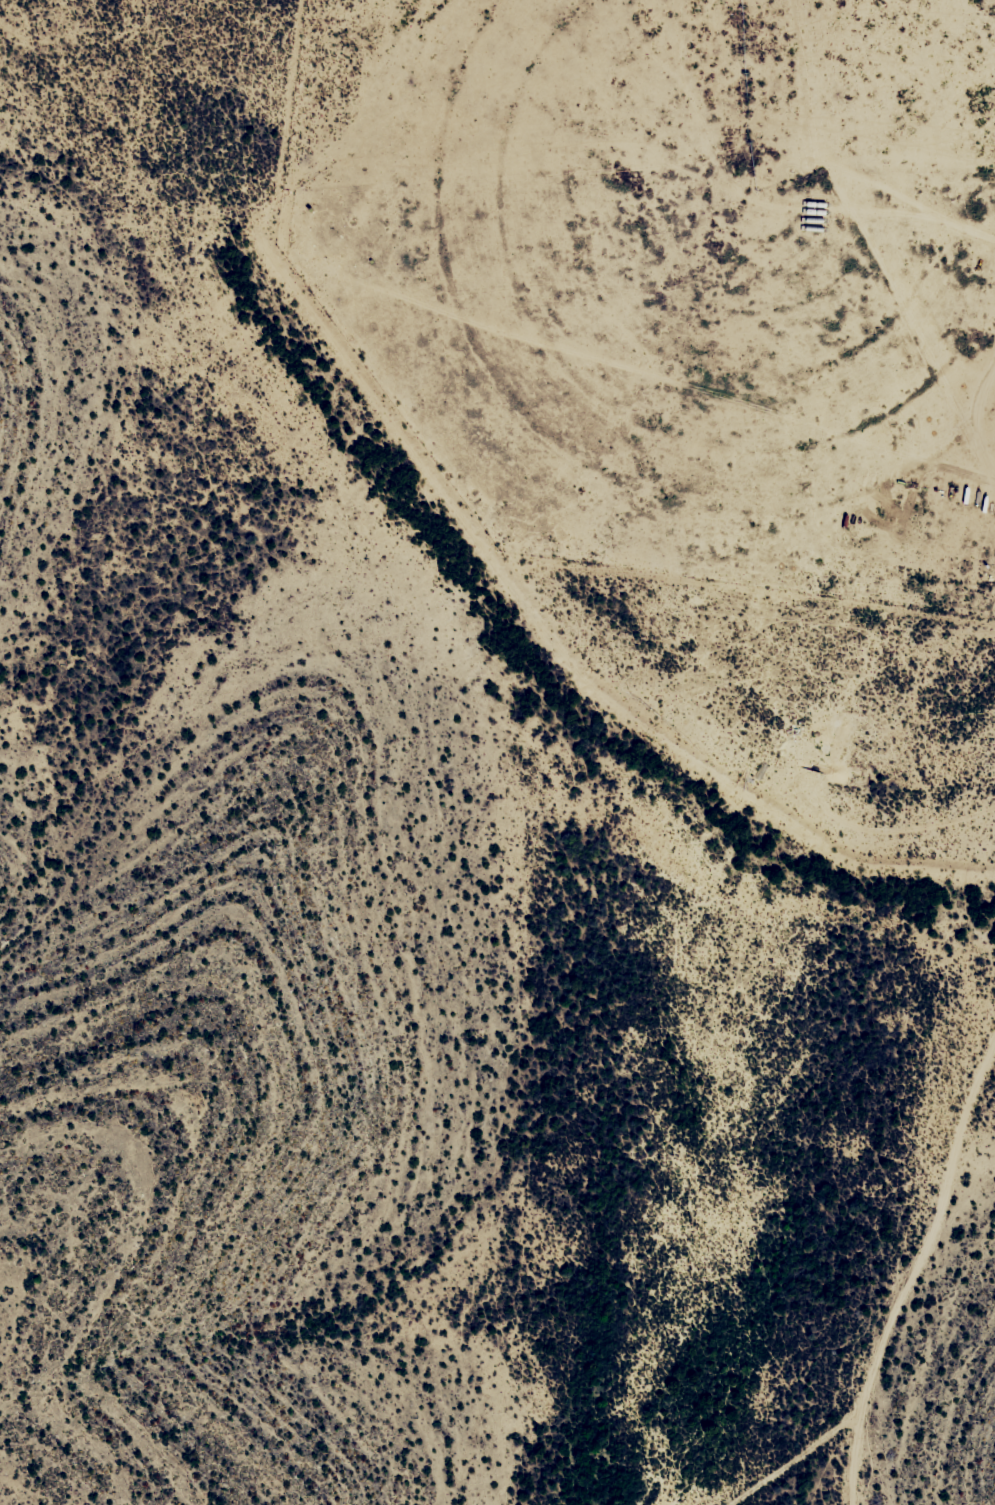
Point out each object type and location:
road: (929, 1207)

